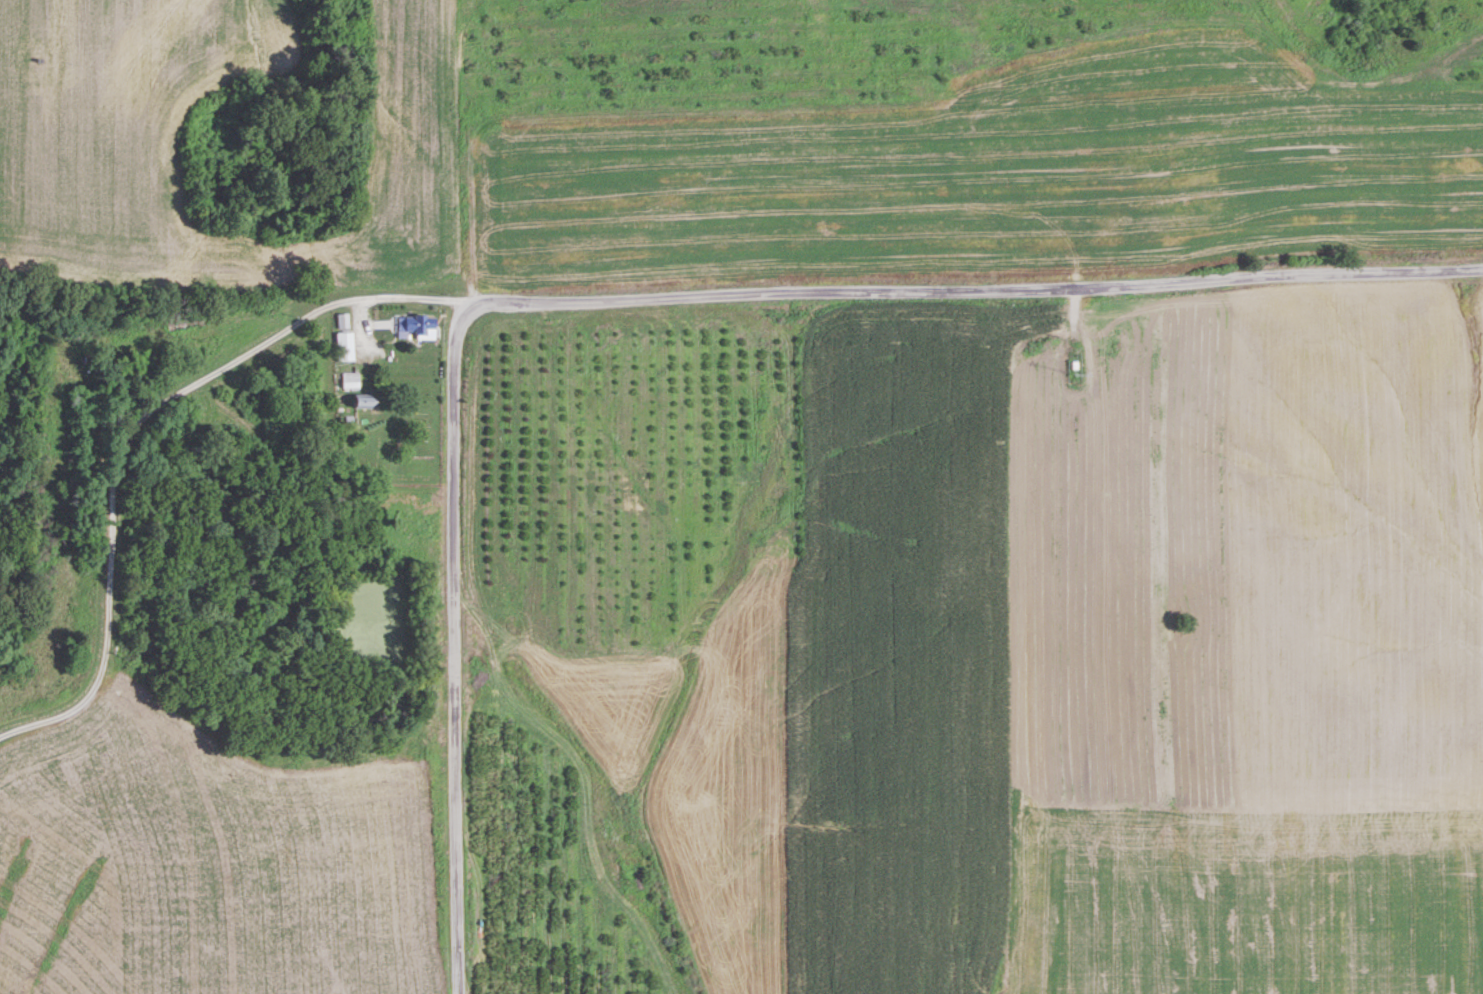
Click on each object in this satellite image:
crop: (100, 170)
road: (973, 286)
building: (343, 321)
building: (417, 326)
building: (344, 347)
building: (200, 348)
building: (350, 380)
building: (127, 396)
building: (362, 402)
road: (129, 428)
road: (457, 645)

